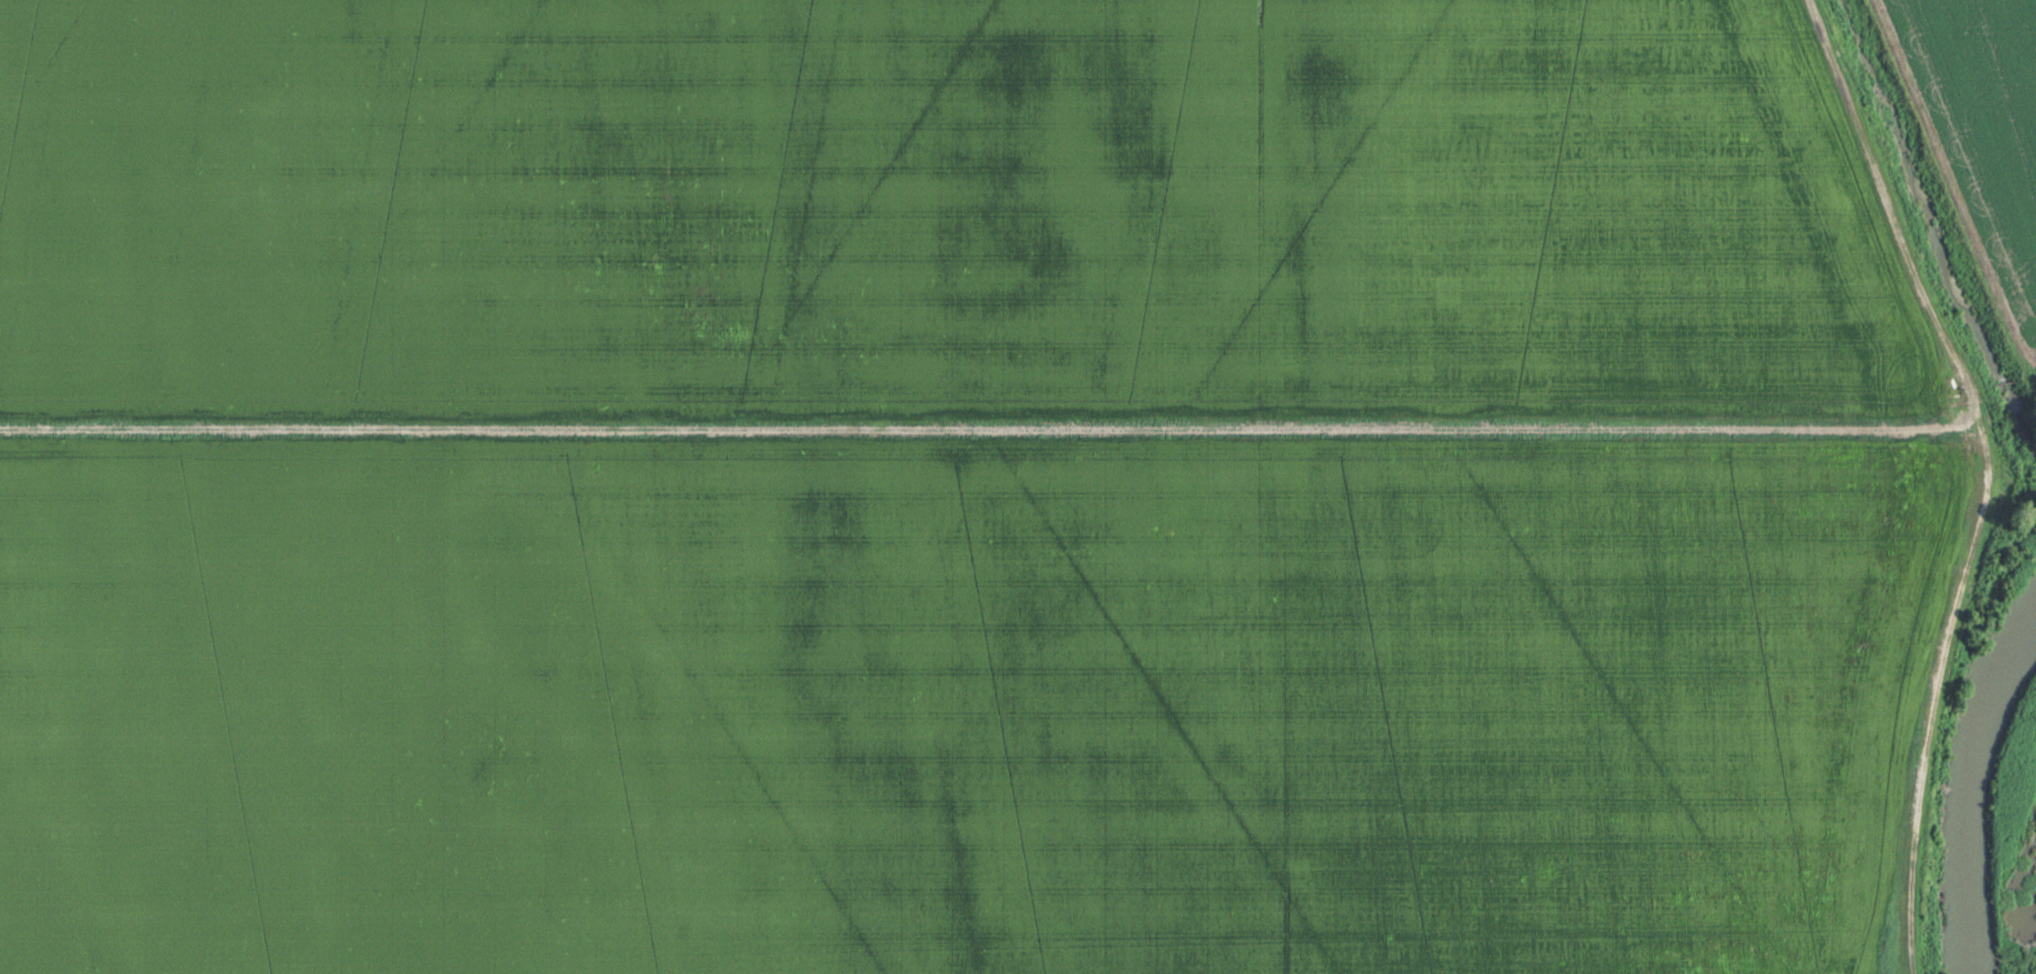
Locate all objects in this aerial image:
road: (1896, 213)
river: (1971, 782)

